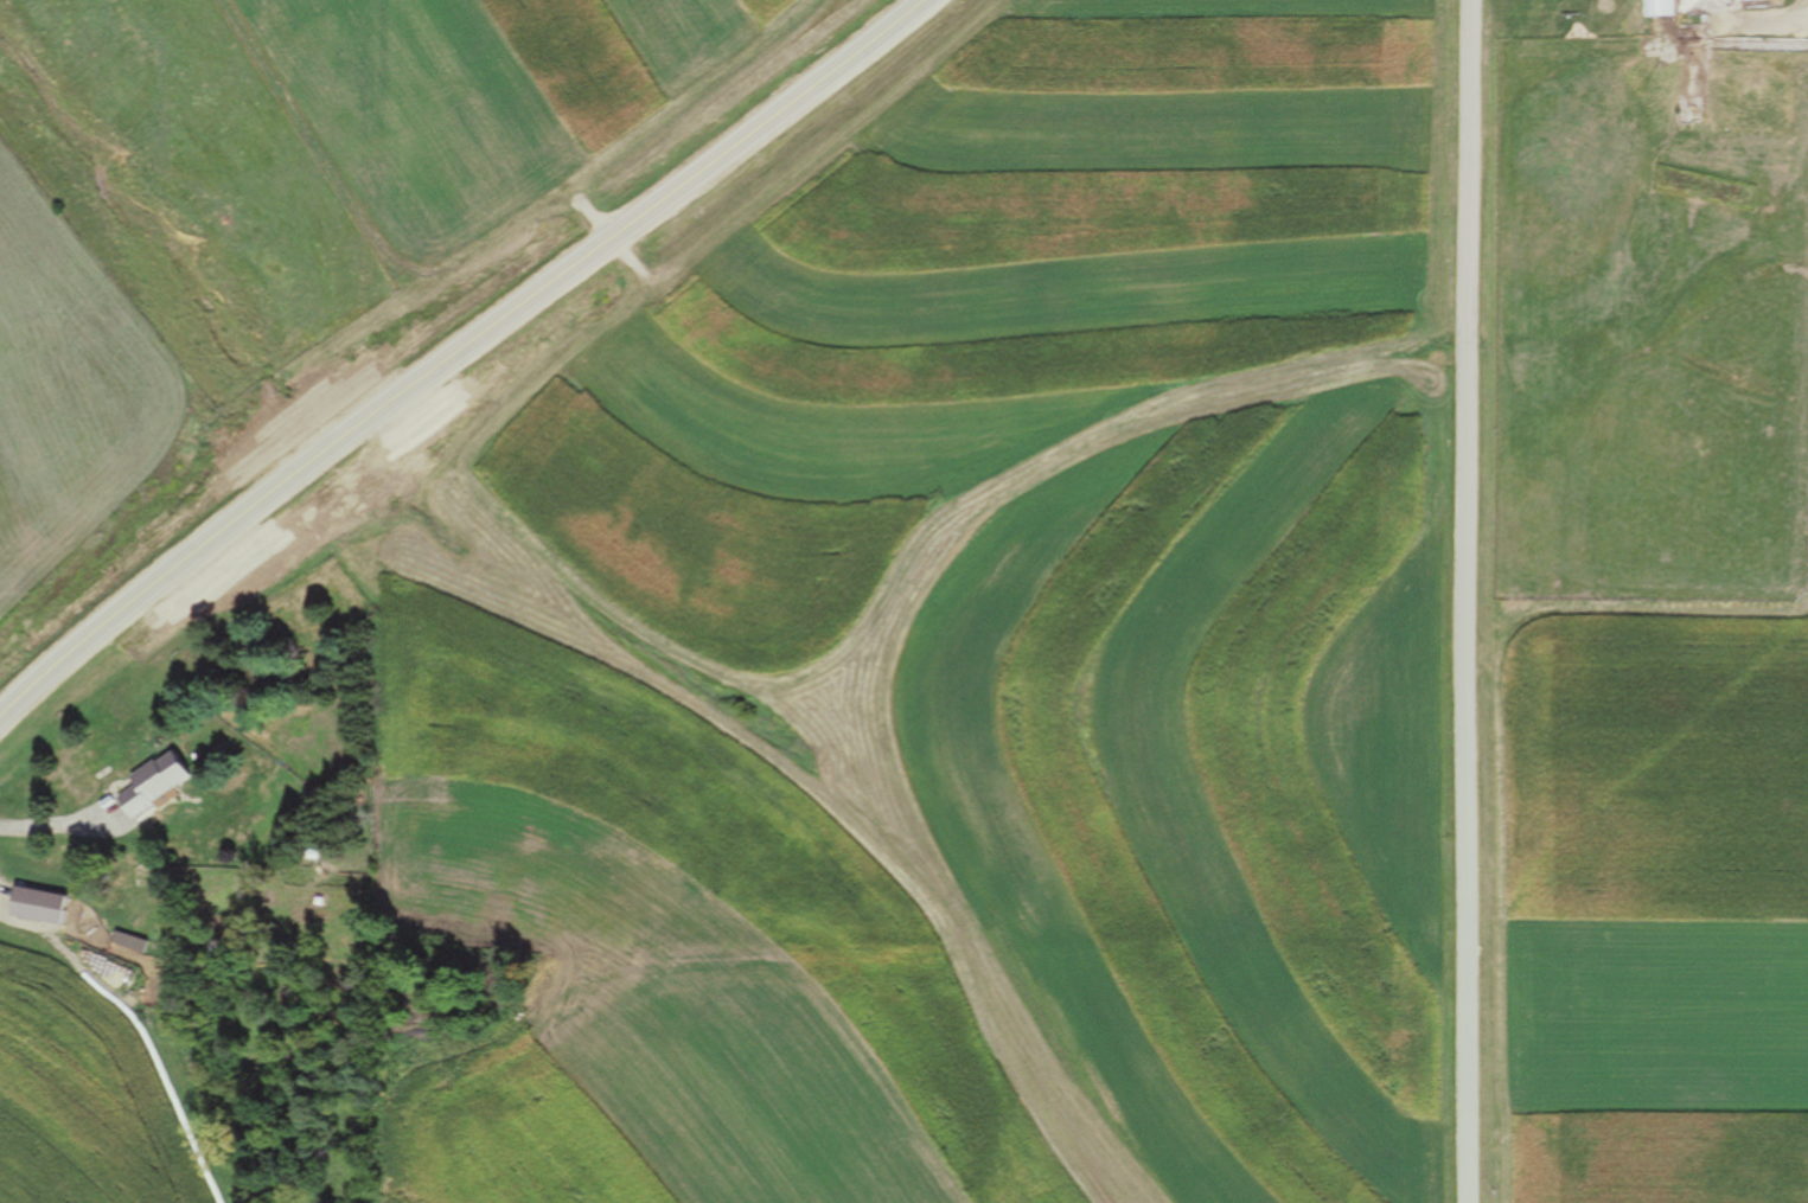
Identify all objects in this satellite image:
building: (1745, 0)
building: (1655, 8)
road: (486, 324)
road: (1464, 601)
road: (31, 689)
building: (151, 783)
road: (51, 827)
building: (33, 906)

